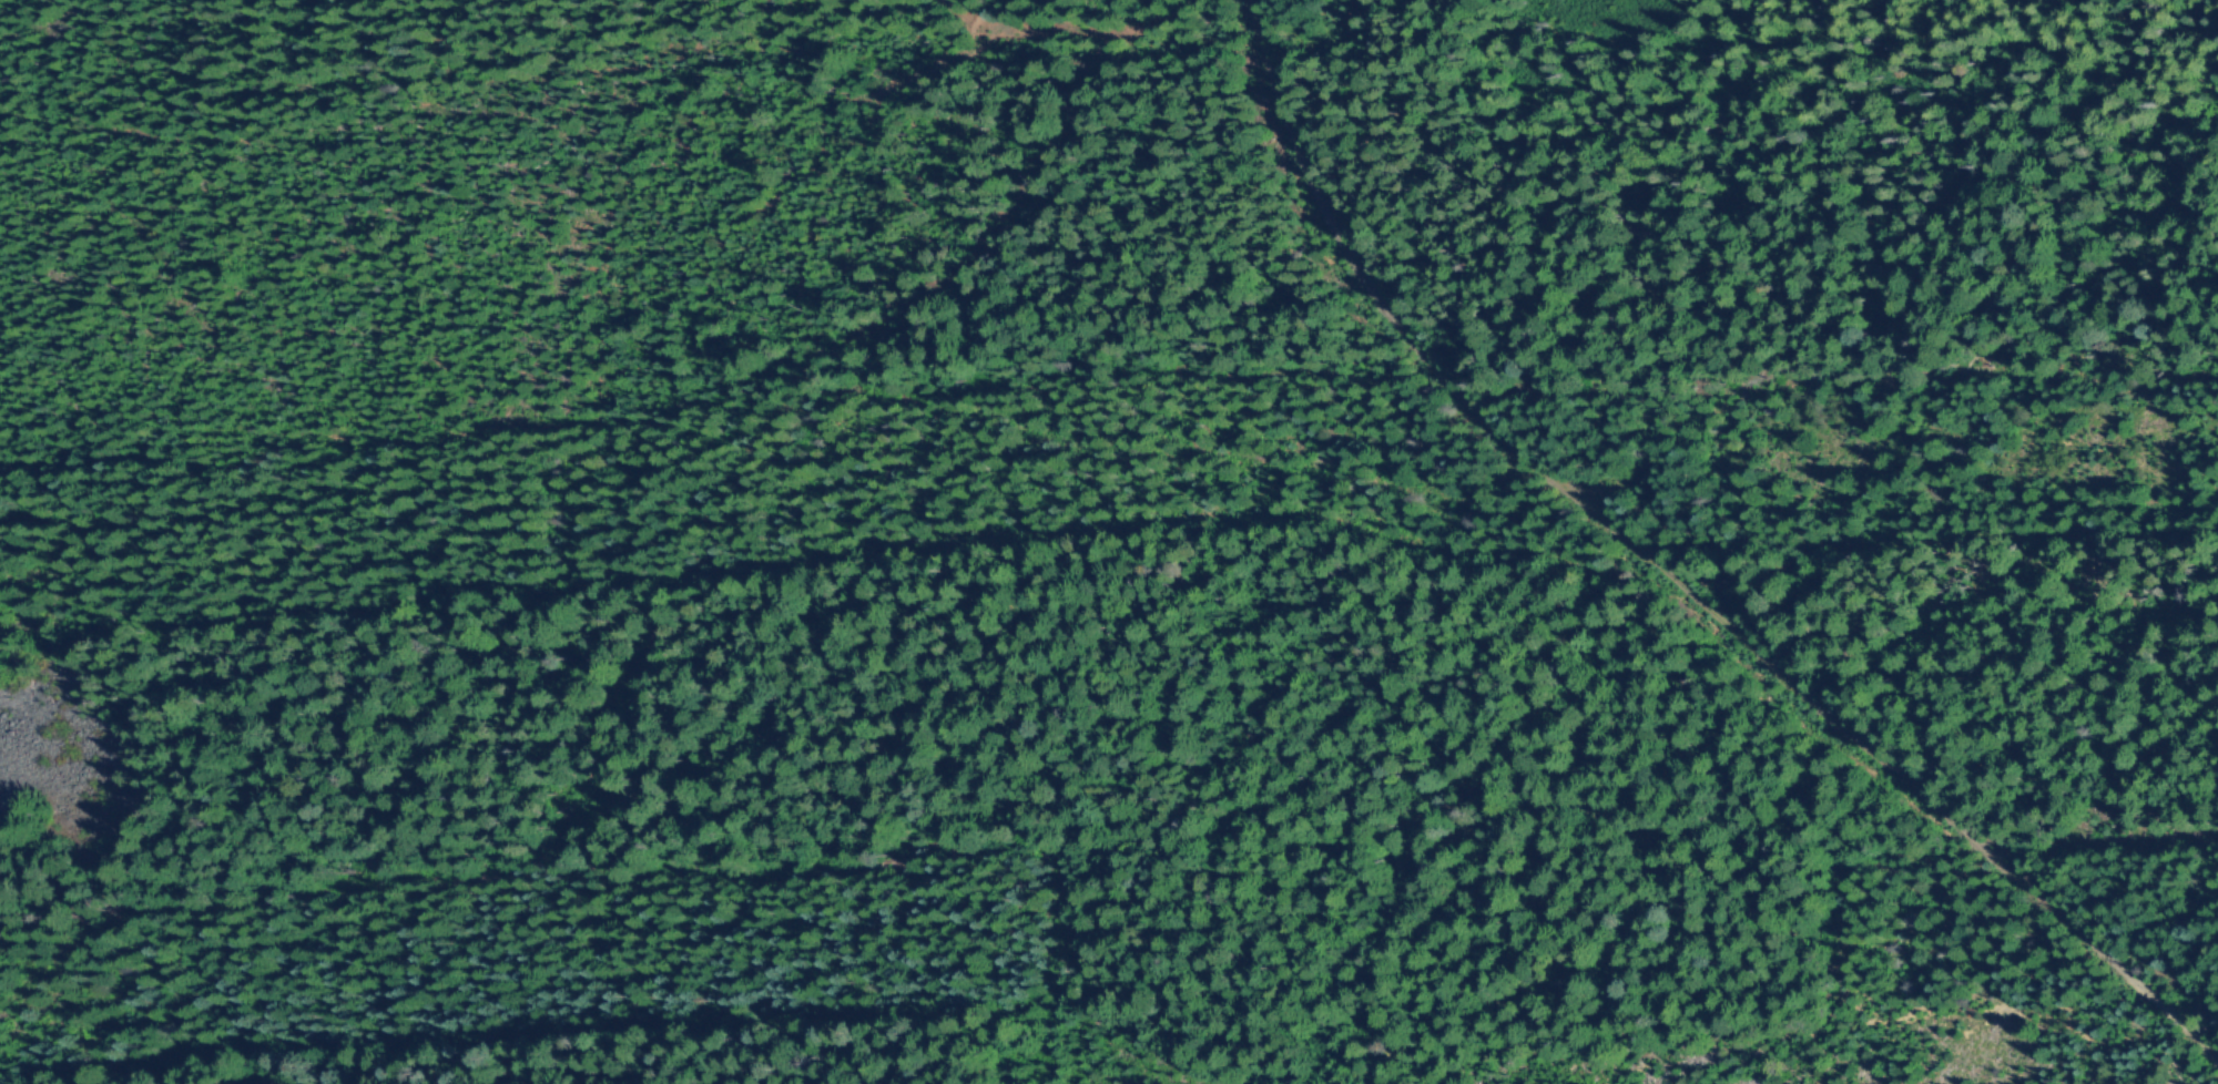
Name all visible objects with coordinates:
road: (1668, 579)

